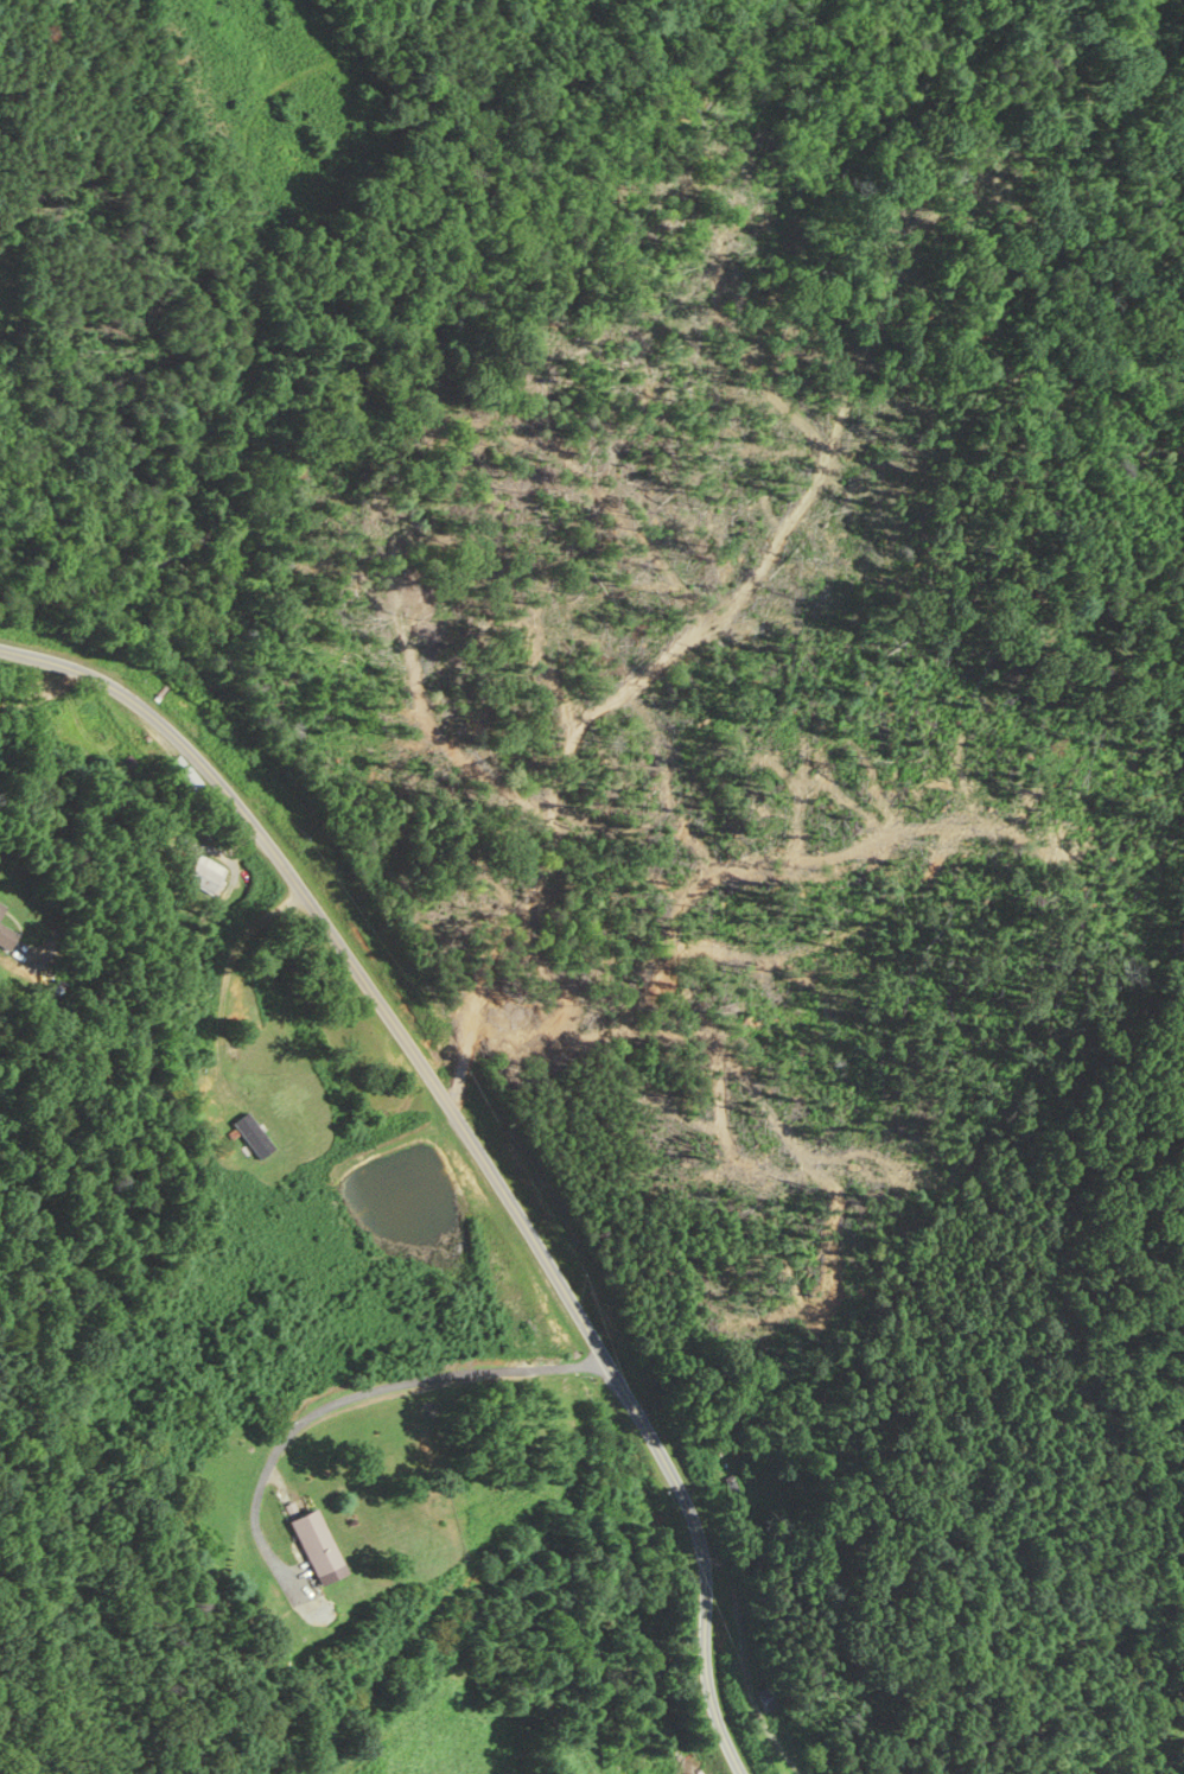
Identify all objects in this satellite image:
road: (243, 364)
river: (470, 368)
river: (24, 583)
building: (182, 781)
building: (203, 876)
building: (1, 909)
building: (6, 937)
building: (250, 1137)
road: (472, 1140)
road: (350, 1397)
building: (314, 1543)
building: (765, 1699)

